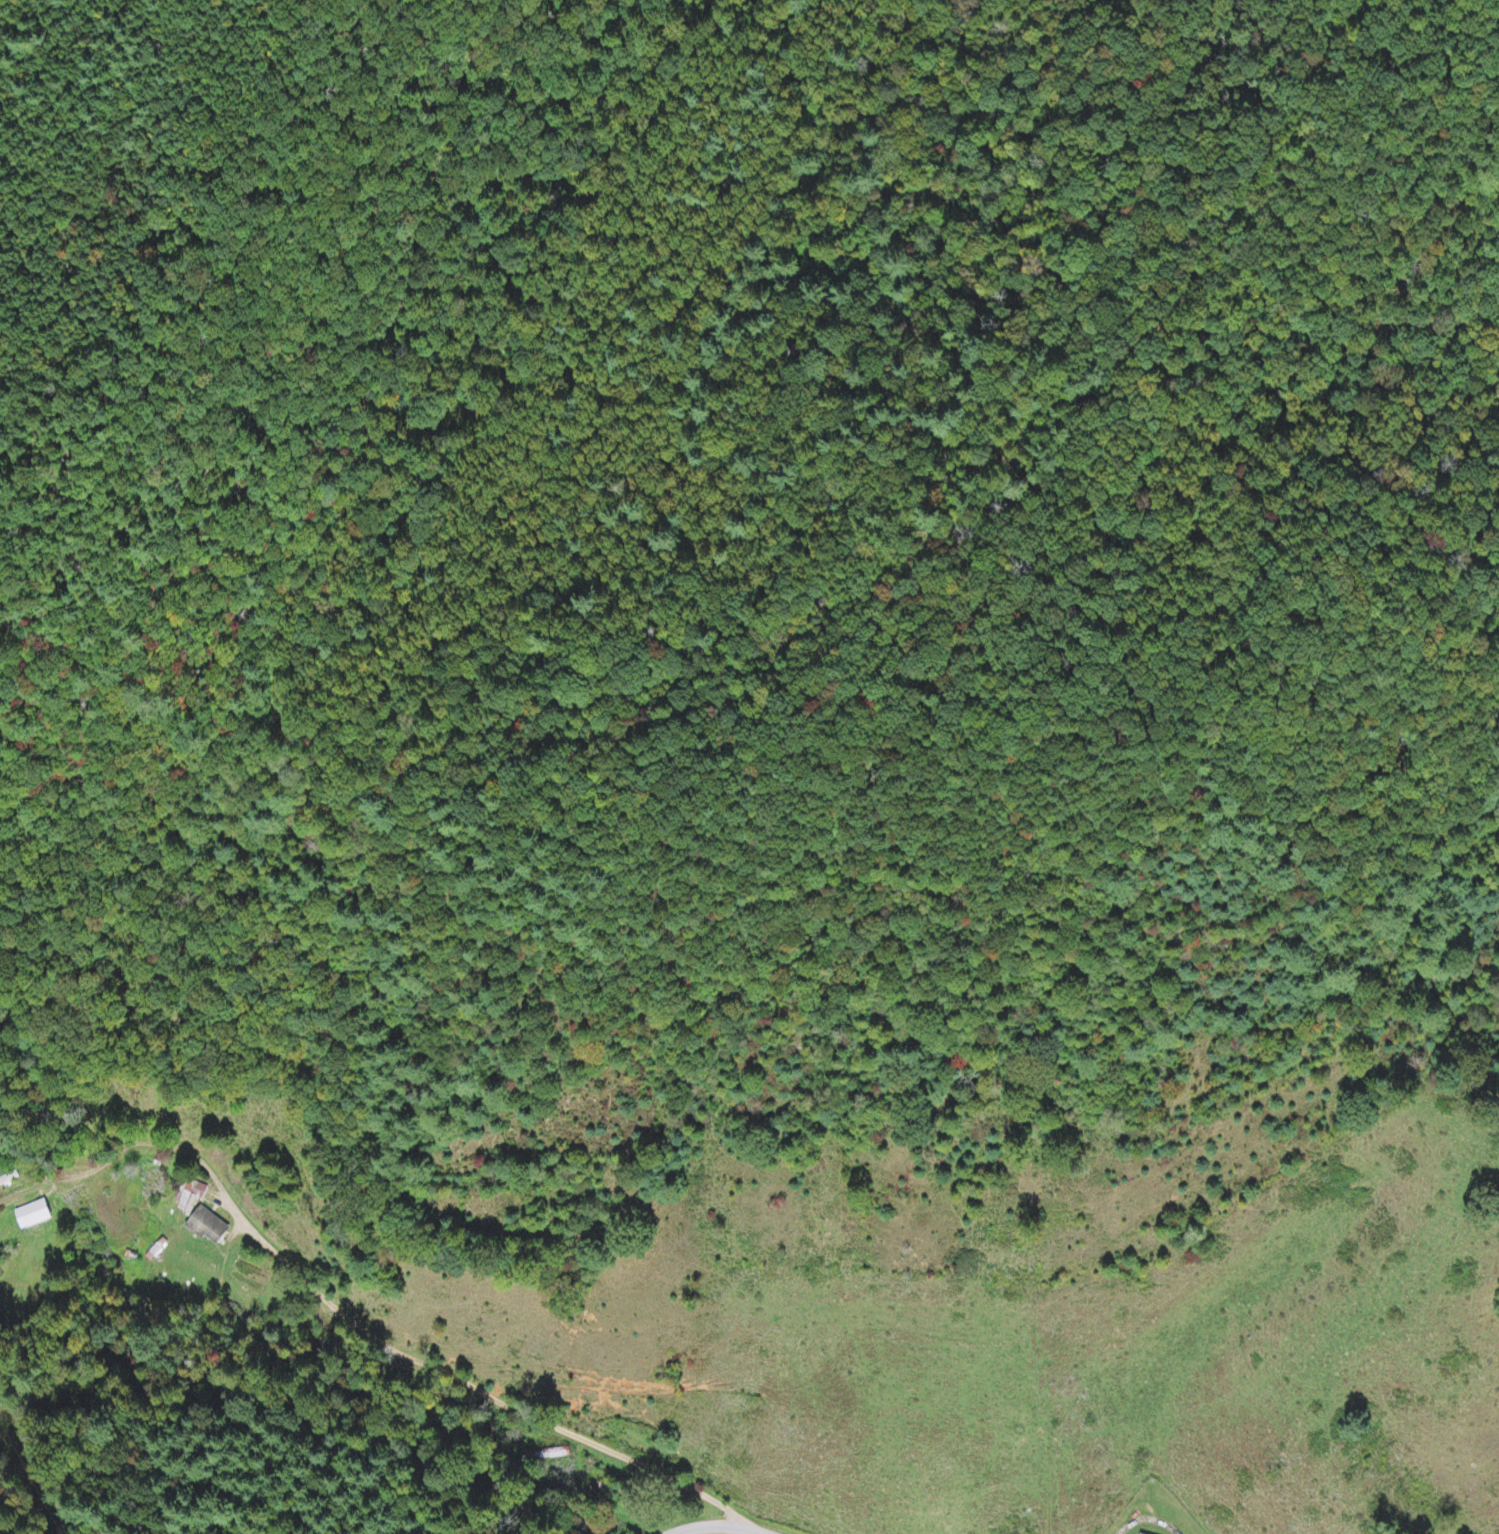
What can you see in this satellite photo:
building: (191, 1198)
building: (36, 1216)
building: (210, 1228)
road: (380, 1334)
road: (666, 1479)
road: (707, 1530)
road: (752, 1531)

